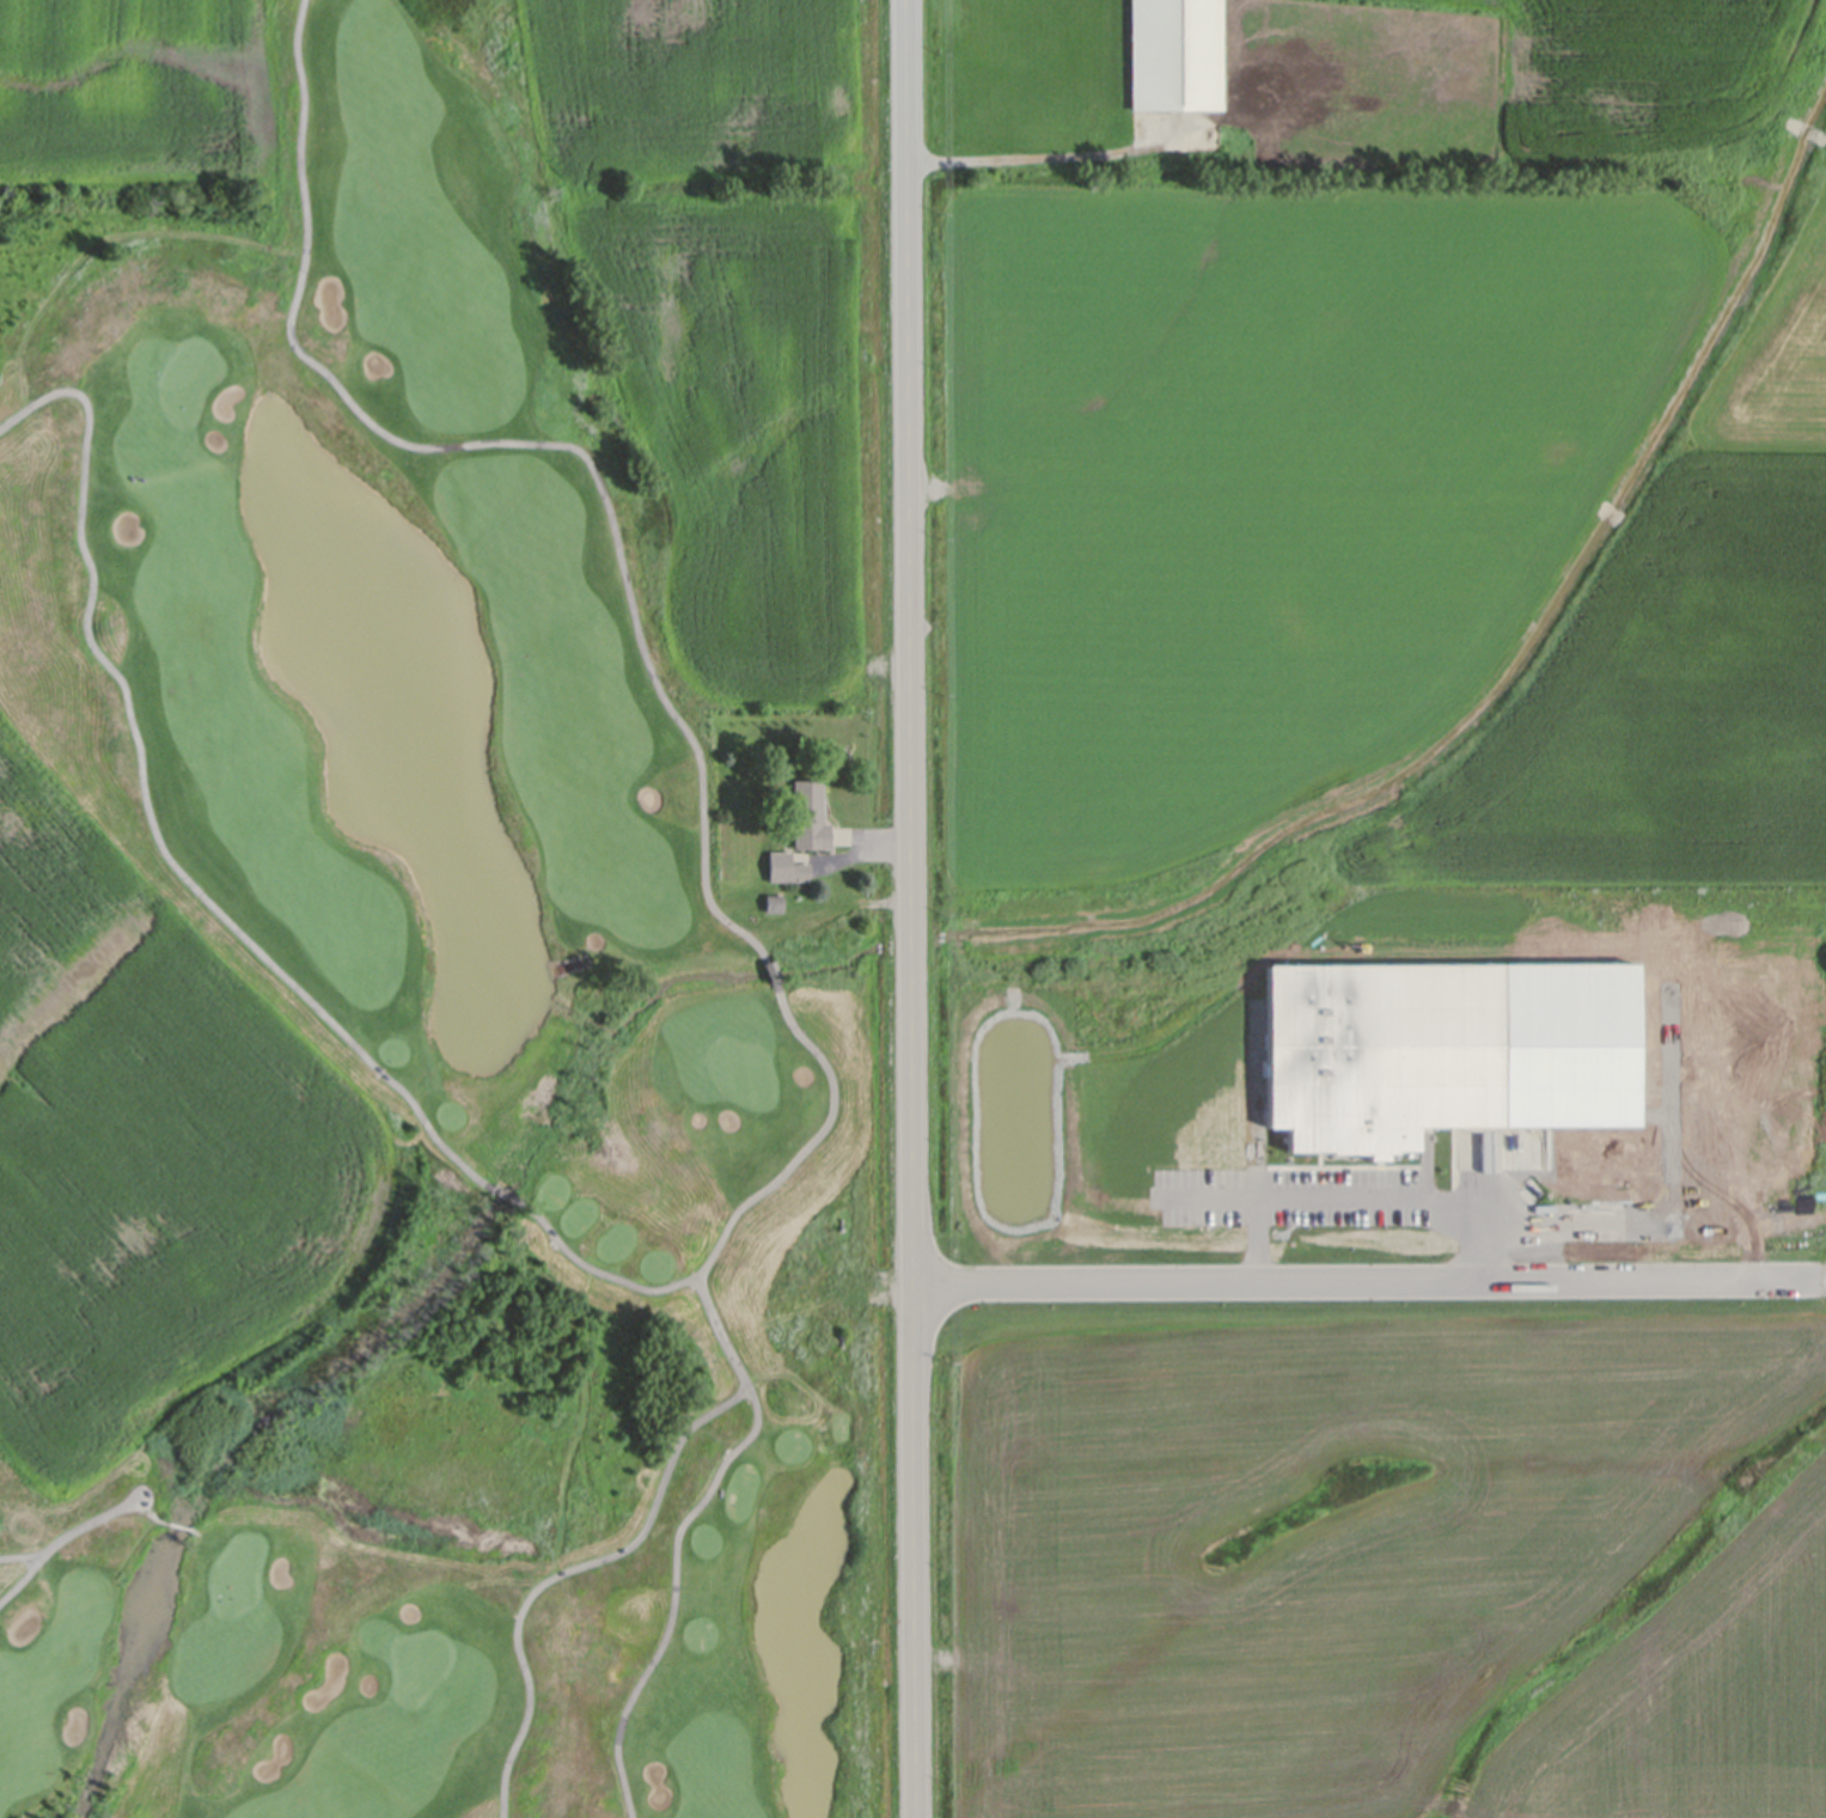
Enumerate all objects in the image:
building: (1174, 56)
road: (1045, 159)
crop: (1397, 474)
building: (806, 810)
building: (784, 864)
building: (772, 898)
road: (917, 908)
building: (771, 966)
park: (450, 1030)
building: (1378, 1134)
road: (1362, 1197)
road: (1252, 1238)
road: (1372, 1279)
crop: (1378, 1563)

